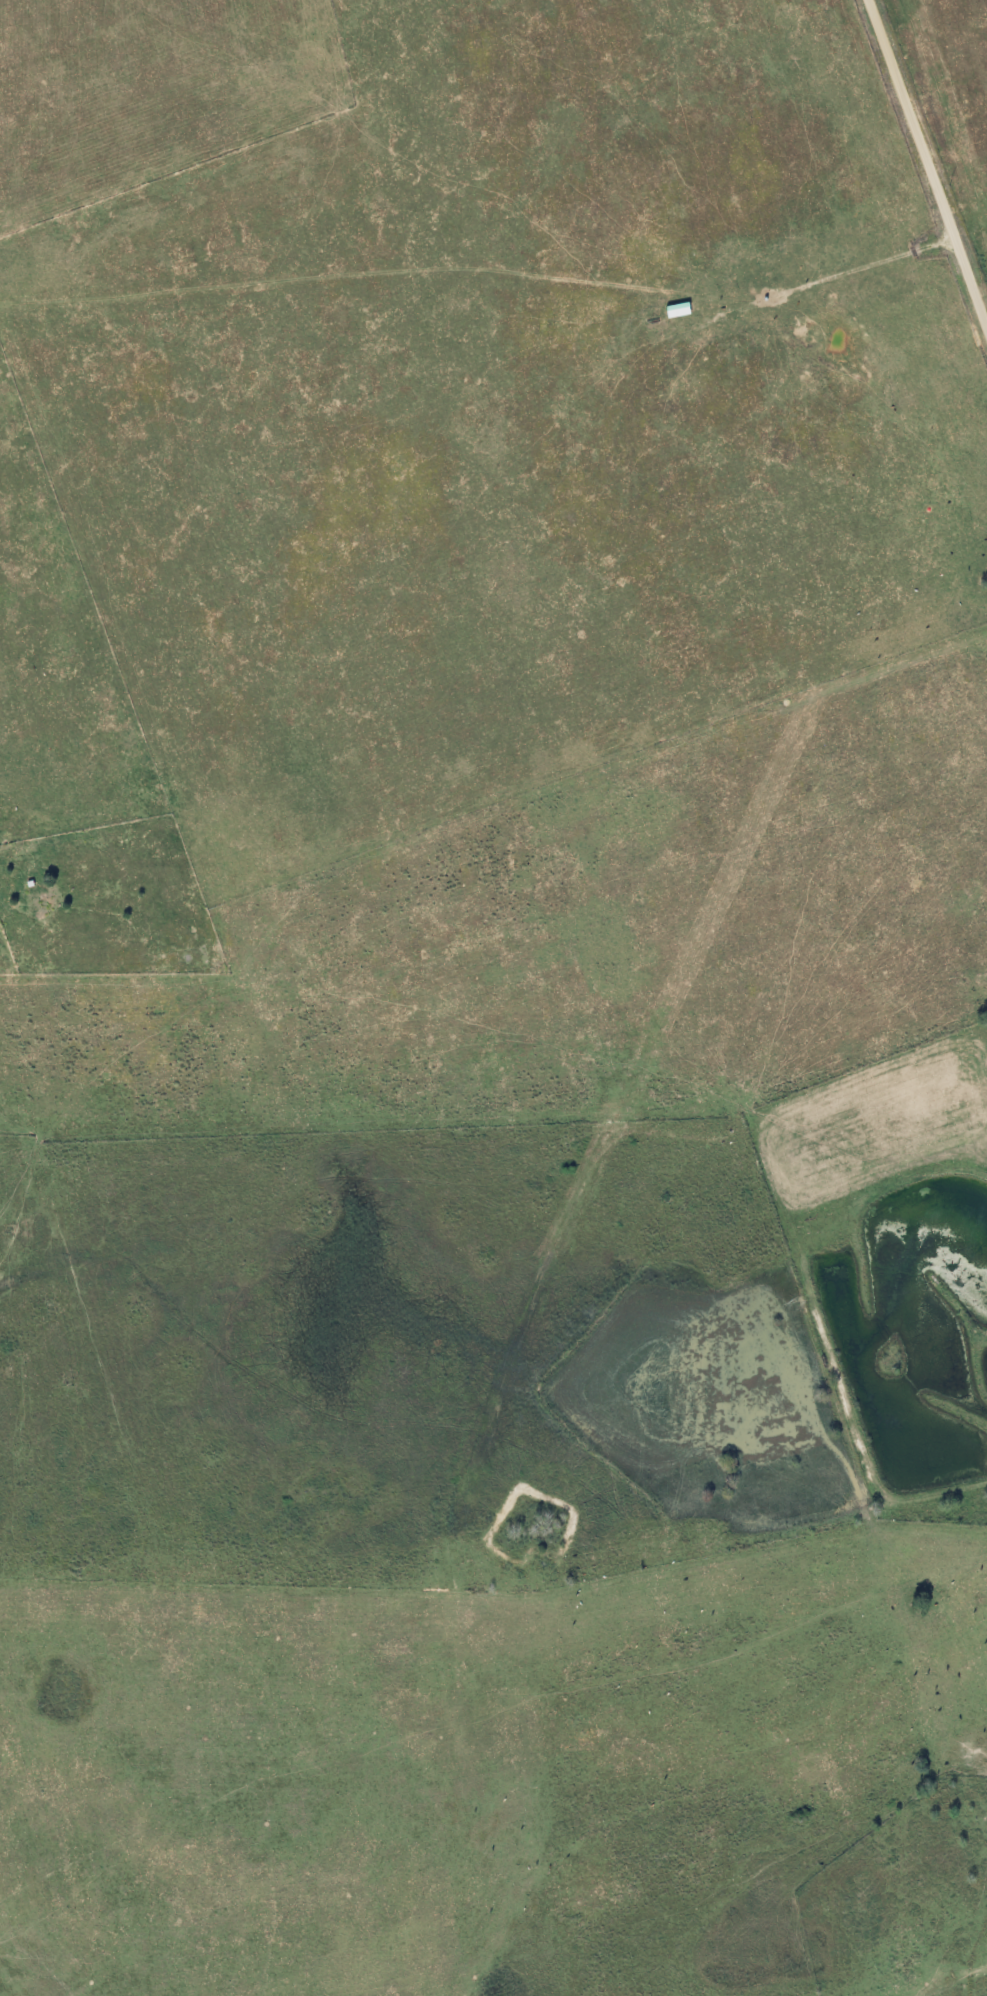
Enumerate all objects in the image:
road: (927, 165)
road: (838, 268)

